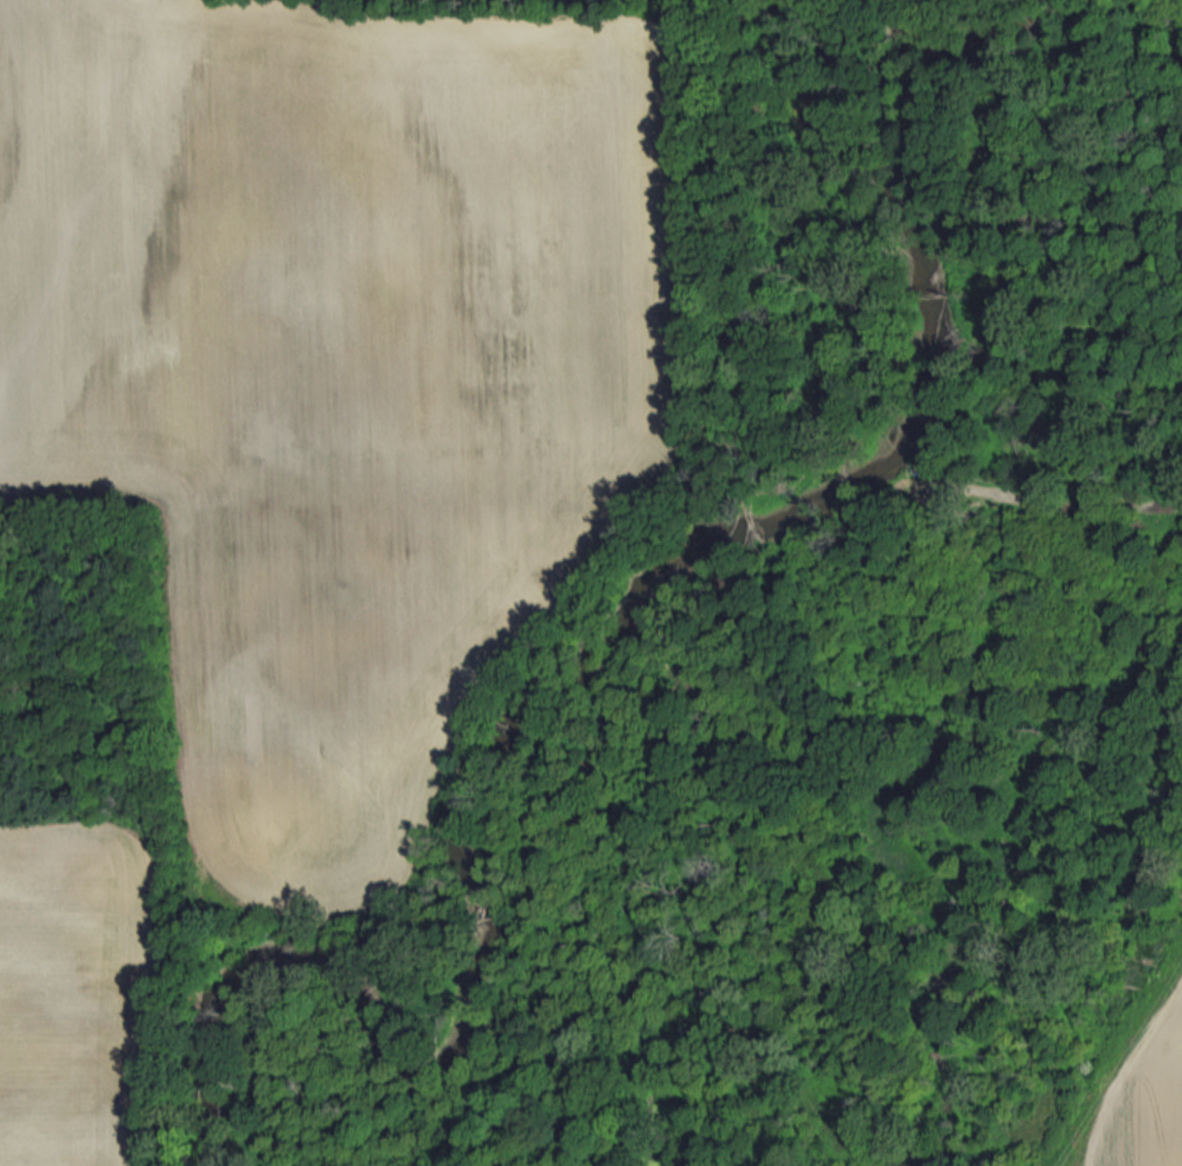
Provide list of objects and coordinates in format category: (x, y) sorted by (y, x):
river: (779, 0)
river: (957, 45)
crop: (336, 359)
river: (563, 678)
crop: (72, 988)
crop: (1146, 1097)

